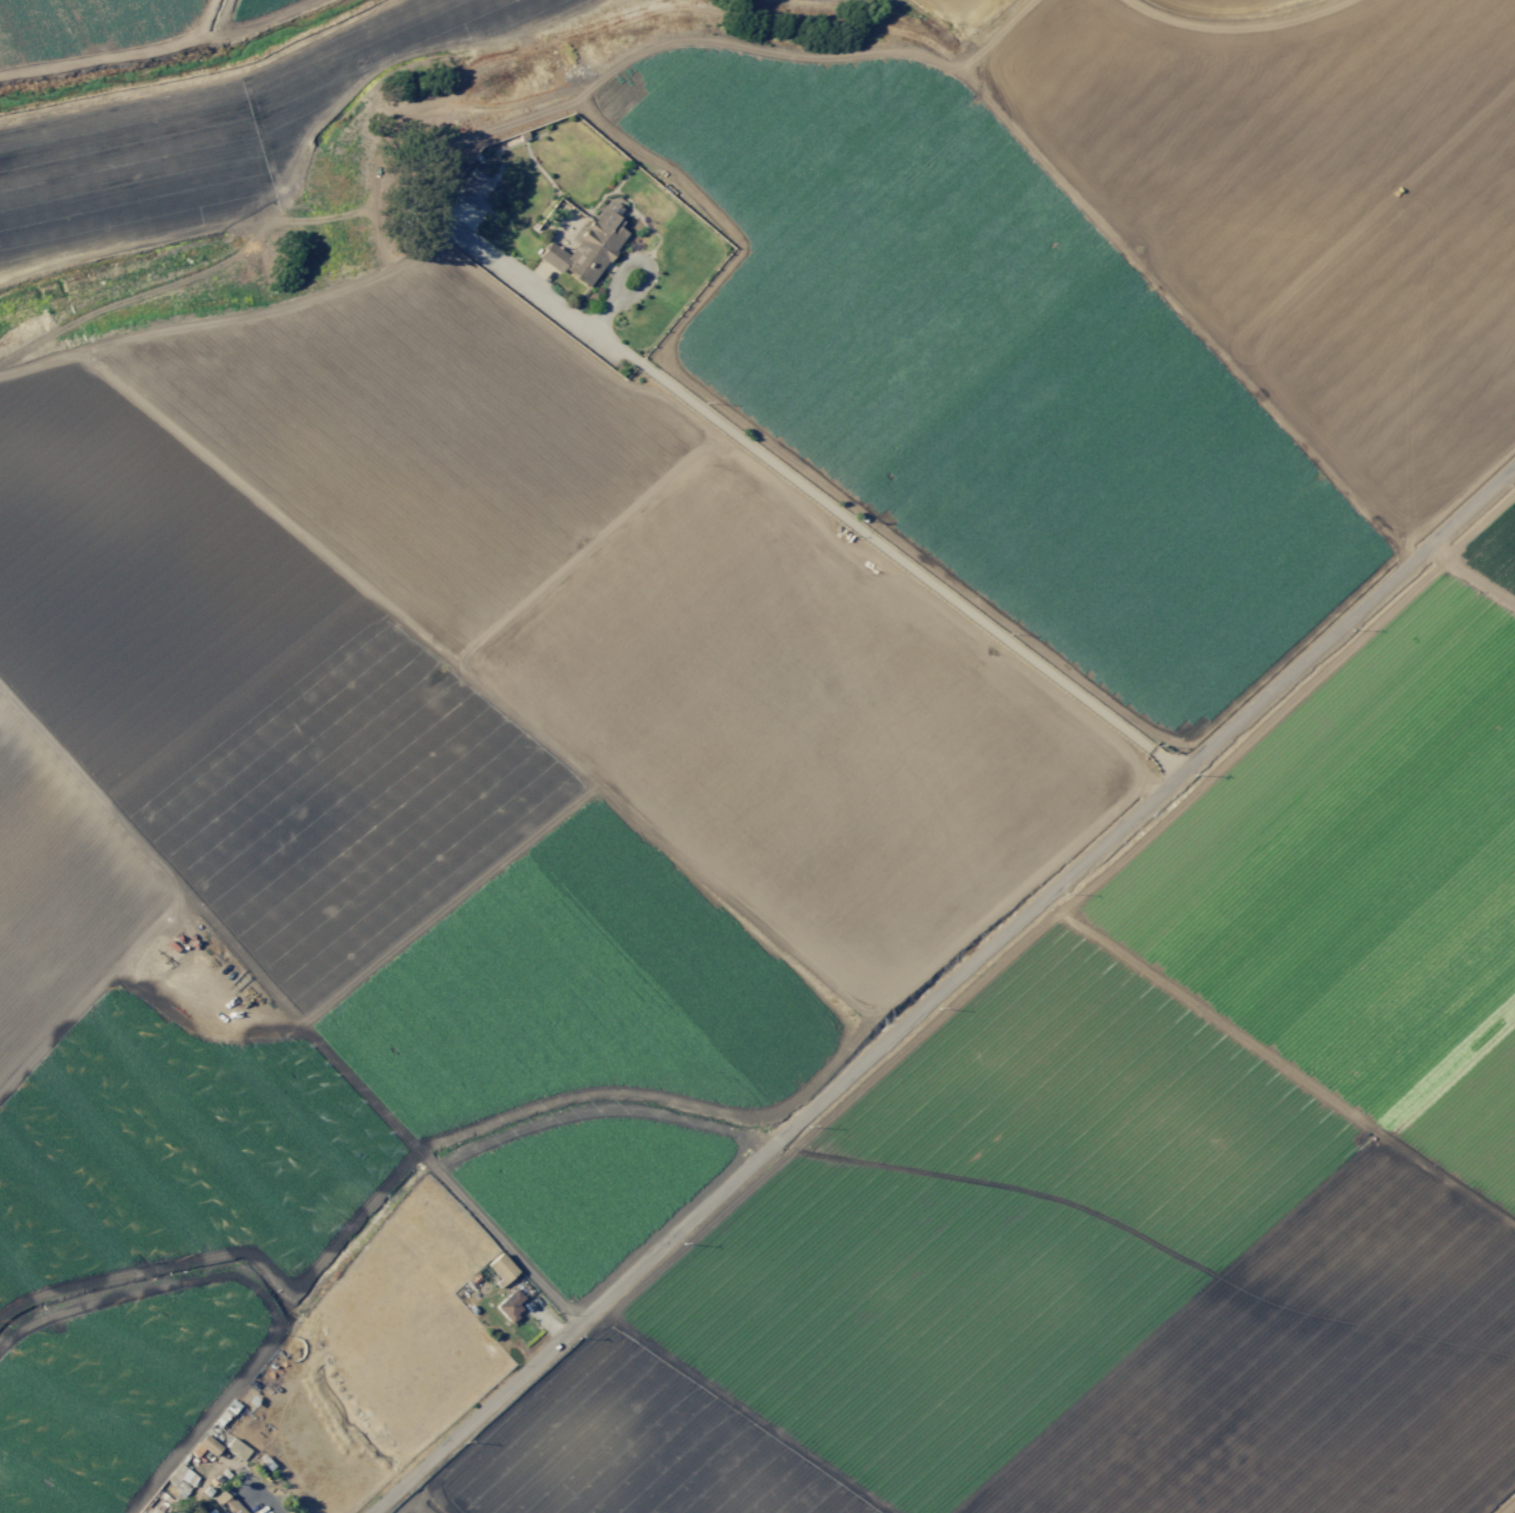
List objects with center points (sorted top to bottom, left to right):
road: (1243, 31)
road: (755, 55)
crop: (177, 106)
building: (473, 190)
road: (1093, 237)
building: (589, 246)
road: (619, 383)
road: (1286, 443)
road: (817, 498)
road: (584, 550)
road: (952, 578)
road: (474, 683)
crop: (800, 820)
road: (449, 905)
road: (947, 991)
road: (824, 1072)
road: (367, 1097)
road: (602, 1110)
building: (501, 1267)
building: (510, 1305)
building: (209, 1444)
building: (237, 1449)
building: (228, 1503)
building: (211, 1511)

